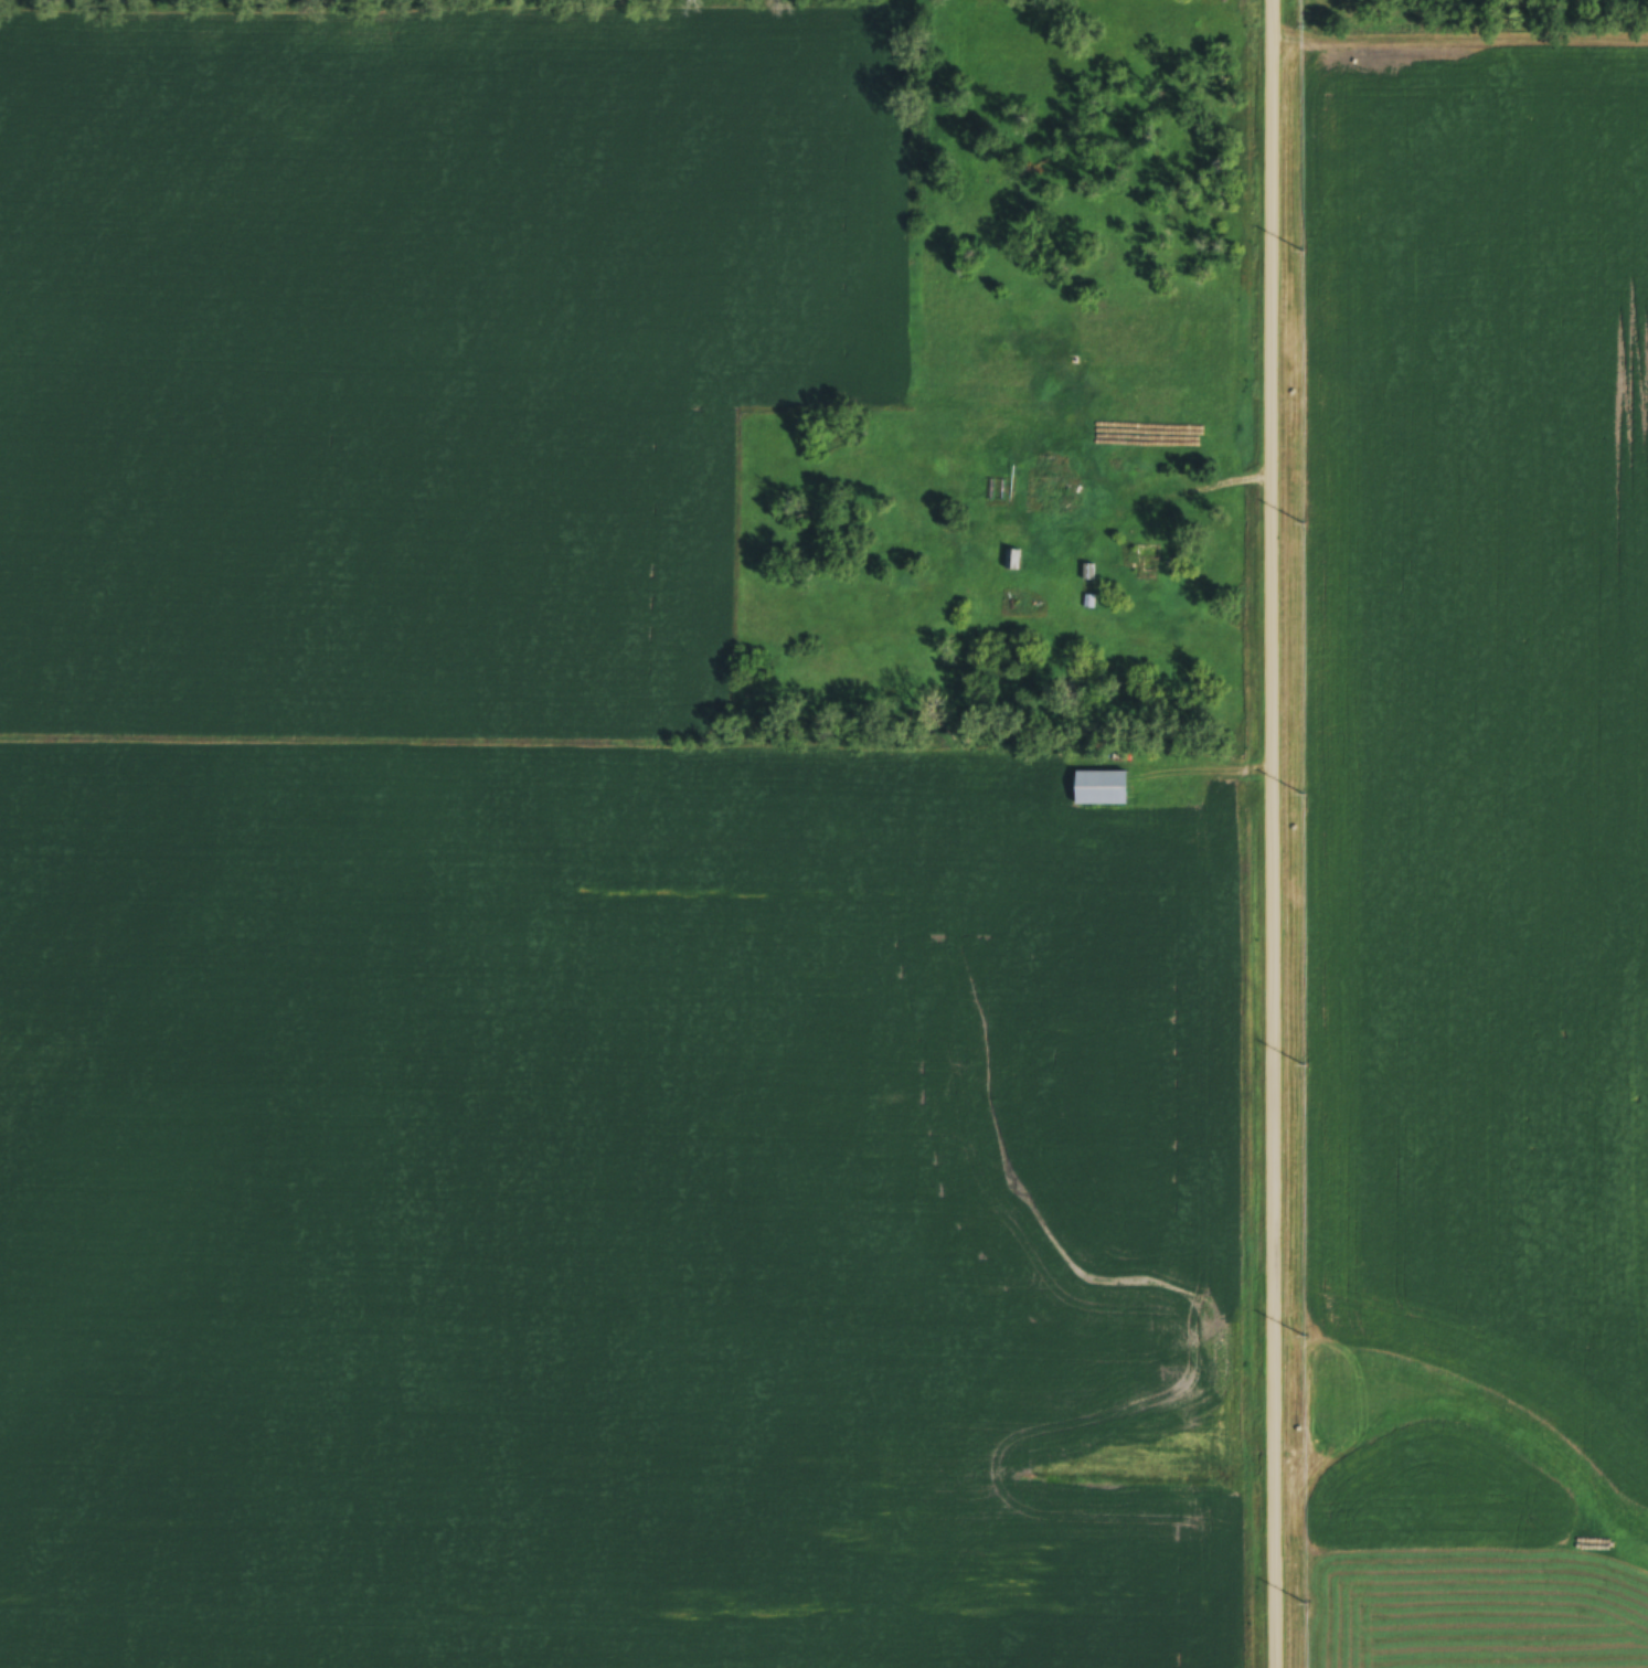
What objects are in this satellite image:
building: (1050, 492)
building: (1147, 564)
building: (1101, 790)
road: (1274, 833)

